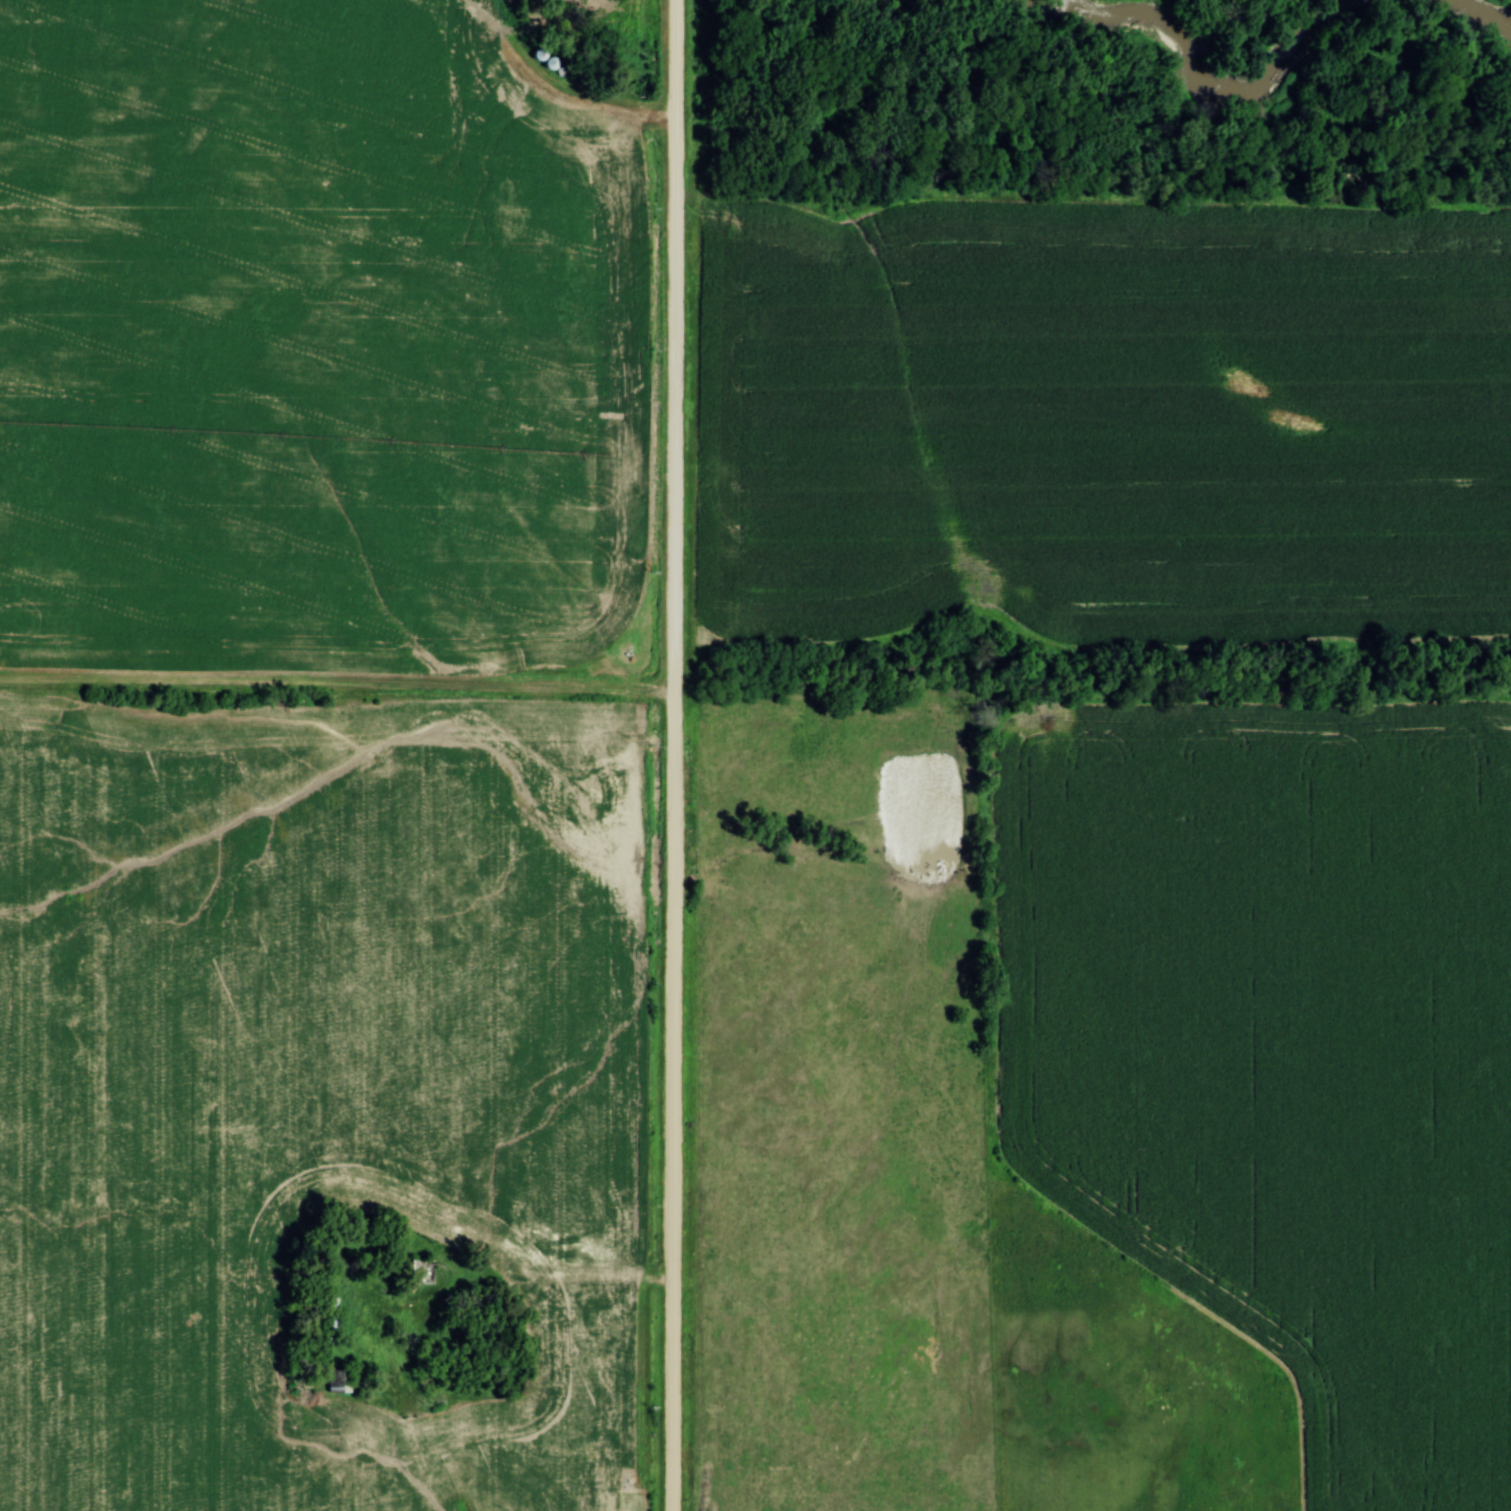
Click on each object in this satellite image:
building: (534, 55)
building: (546, 64)
road: (672, 755)
building: (414, 1271)
building: (324, 1301)
building: (334, 1381)

